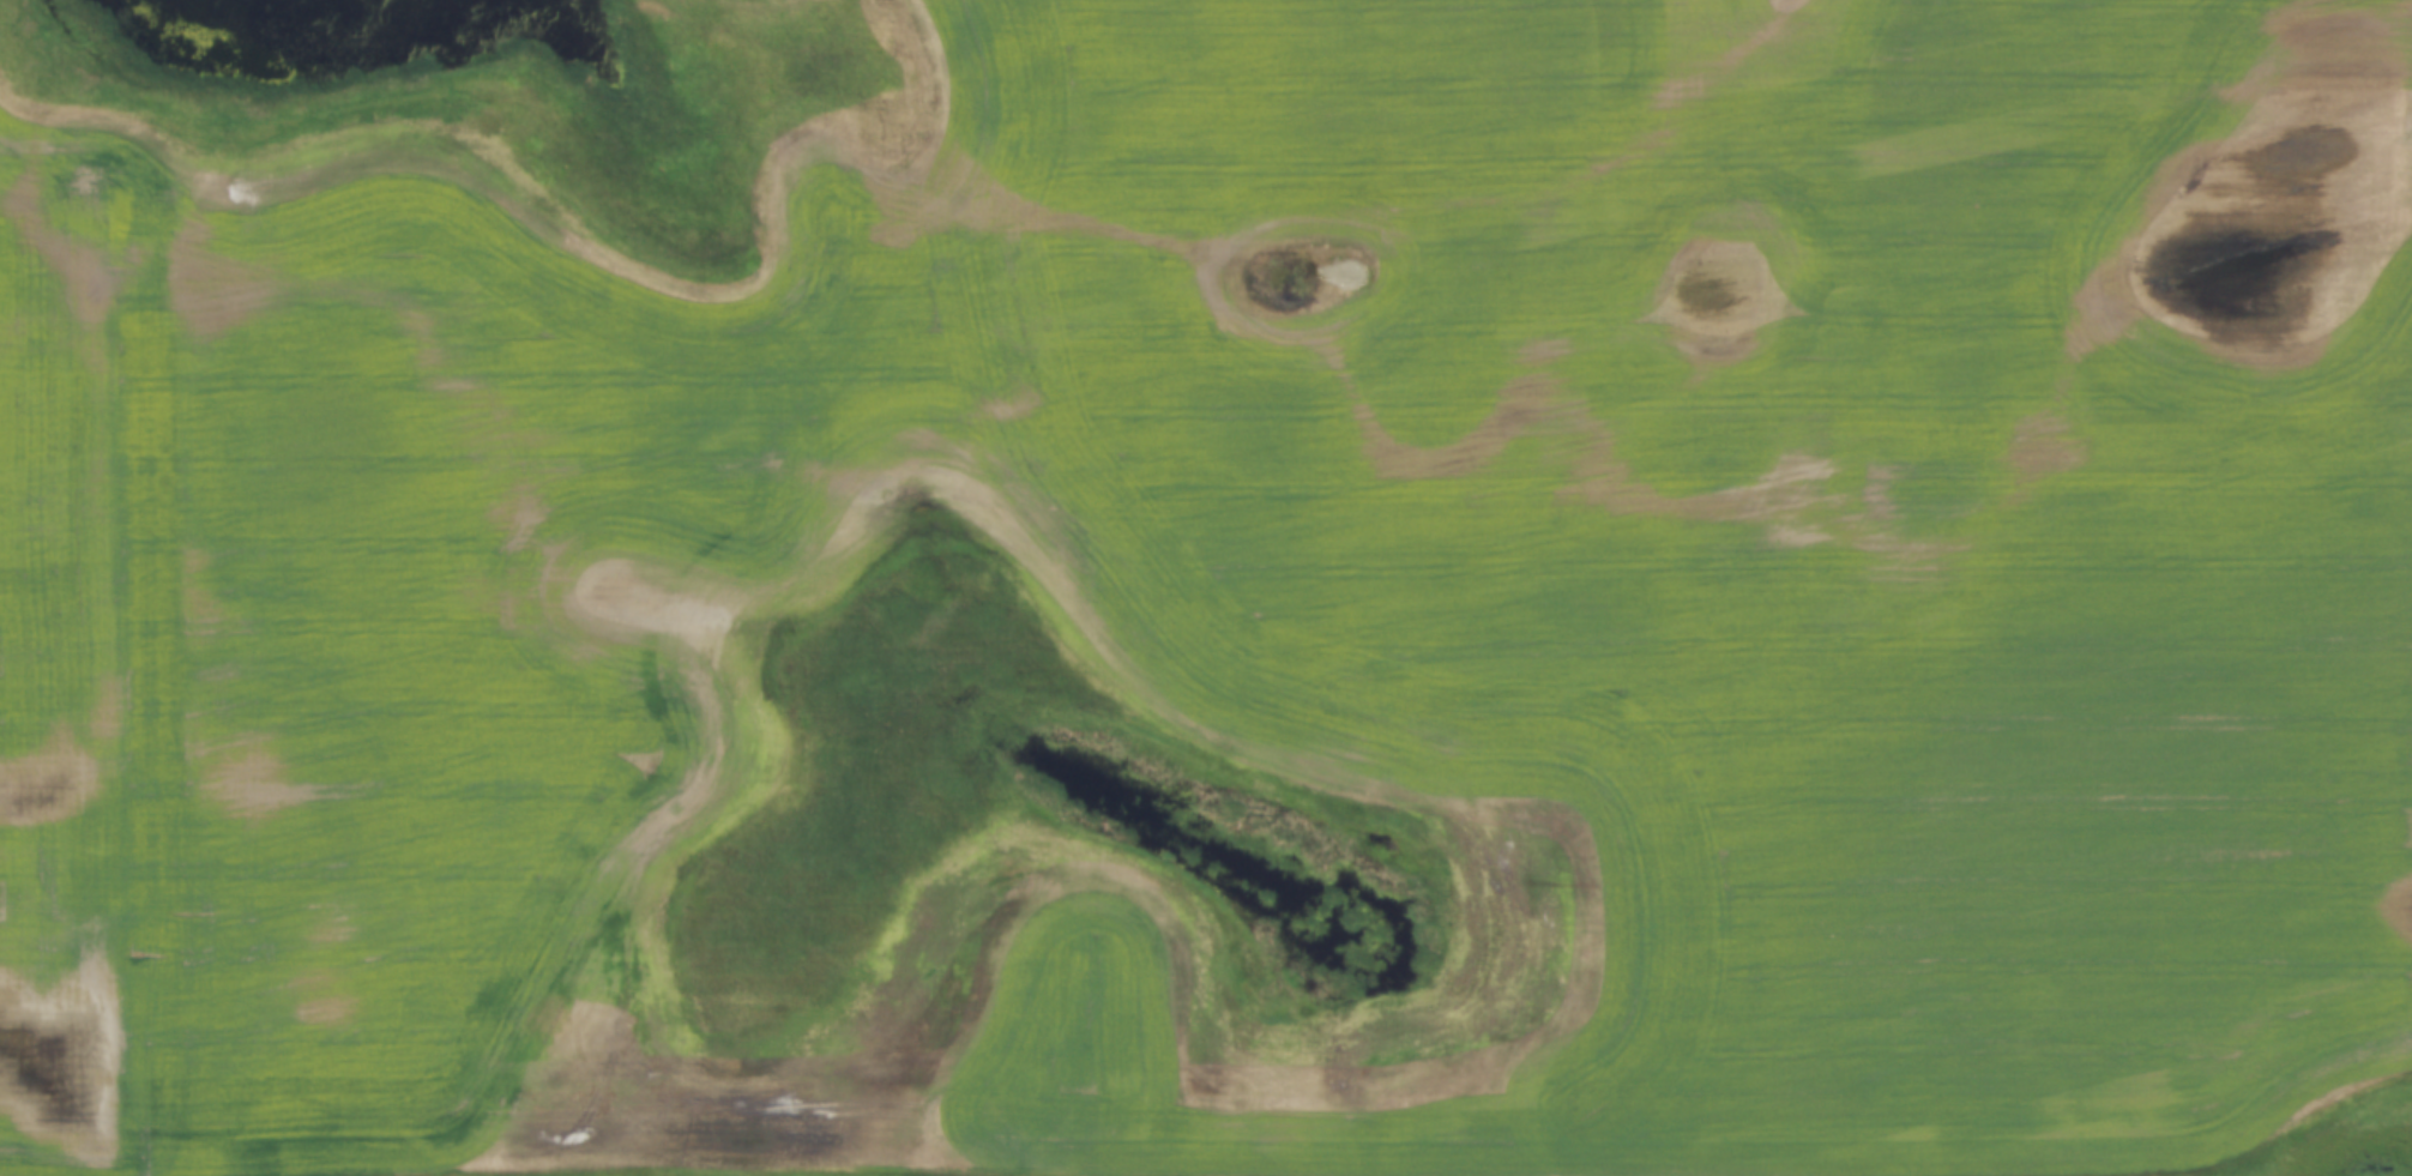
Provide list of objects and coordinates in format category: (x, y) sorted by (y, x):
road: (135, 255)

